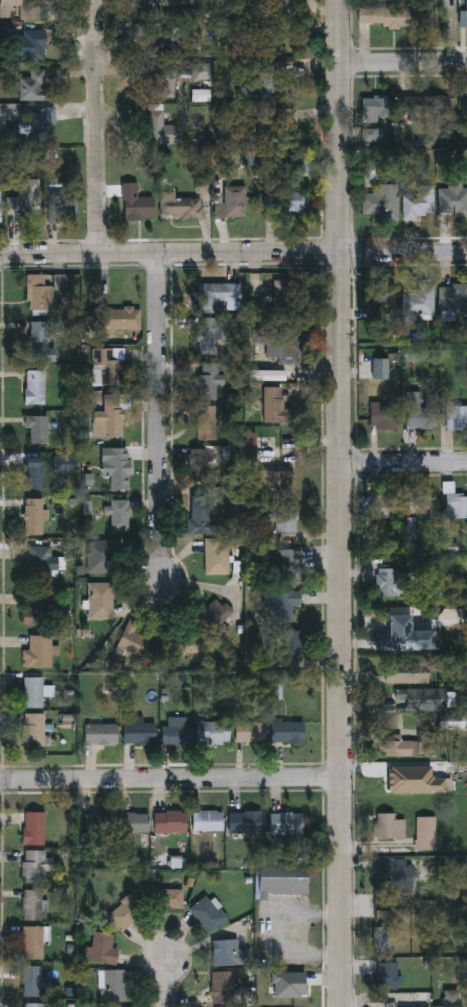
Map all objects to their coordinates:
building: (147, 3)
building: (274, 3)
building: (20, 8)
building: (365, 16)
building: (397, 18)
building: (463, 19)
road: (453, 31)
building: (34, 44)
road: (404, 63)
building: (34, 85)
building: (424, 105)
building: (464, 105)
building: (374, 107)
building: (161, 126)
road: (97, 127)
building: (296, 164)
building: (369, 172)
building: (287, 200)
building: (452, 200)
building: (417, 201)
building: (24, 202)
building: (136, 202)
building: (231, 202)
building: (381, 202)
building: (62, 205)
building: (181, 205)
building: (0, 207)
road: (404, 253)
road: (170, 254)
building: (40, 292)
building: (210, 297)
building: (287, 299)
building: (453, 300)
building: (380, 302)
building: (419, 303)
building: (121, 318)
building: (211, 334)
building: (41, 342)
building: (280, 344)
building: (105, 366)
building: (380, 369)
building: (265, 376)
building: (209, 380)
building: (35, 387)
building: (274, 405)
building: (383, 415)
building: (421, 415)
building: (110, 416)
road: (161, 416)
building: (456, 417)
building: (205, 422)
building: (38, 428)
road: (404, 461)
building: (65, 464)
building: (200, 464)
building: (120, 468)
building: (33, 473)
building: (275, 481)
road: (342, 503)
building: (454, 503)
building: (383, 506)
building: (422, 506)
building: (200, 513)
building: (34, 516)
building: (119, 516)
building: (286, 518)
building: (102, 556)
building: (217, 556)
building: (40, 558)
building: (286, 566)
building: (387, 582)
building: (101, 600)
building: (283, 605)
building: (40, 611)
building: (215, 614)
building: (400, 634)
building: (186, 639)
building: (135, 641)
building: (291, 645)
building: (40, 652)
building: (406, 672)
building: (35, 692)
building: (415, 695)
building: (34, 730)
building: (140, 732)
building: (216, 732)
building: (289, 732)
building: (251, 733)
building: (102, 734)
building: (175, 735)
building: (399, 747)
road: (171, 779)
building: (208, 820)
building: (134, 822)
building: (168, 822)
building: (245, 822)
building: (287, 822)
building: (388, 826)
building: (34, 828)
building: (95, 828)
building: (425, 832)
building: (36, 865)
building: (390, 875)
building: (281, 879)
building: (169, 898)
building: (32, 904)
building: (125, 912)
building: (208, 913)
building: (381, 938)
building: (34, 942)
building: (103, 948)
building: (230, 953)
building: (386, 975)
building: (32, 981)
road: (166, 984)
building: (113, 985)
building: (223, 987)
building: (277, 988)
building: (452, 998)
building: (34, 1004)

